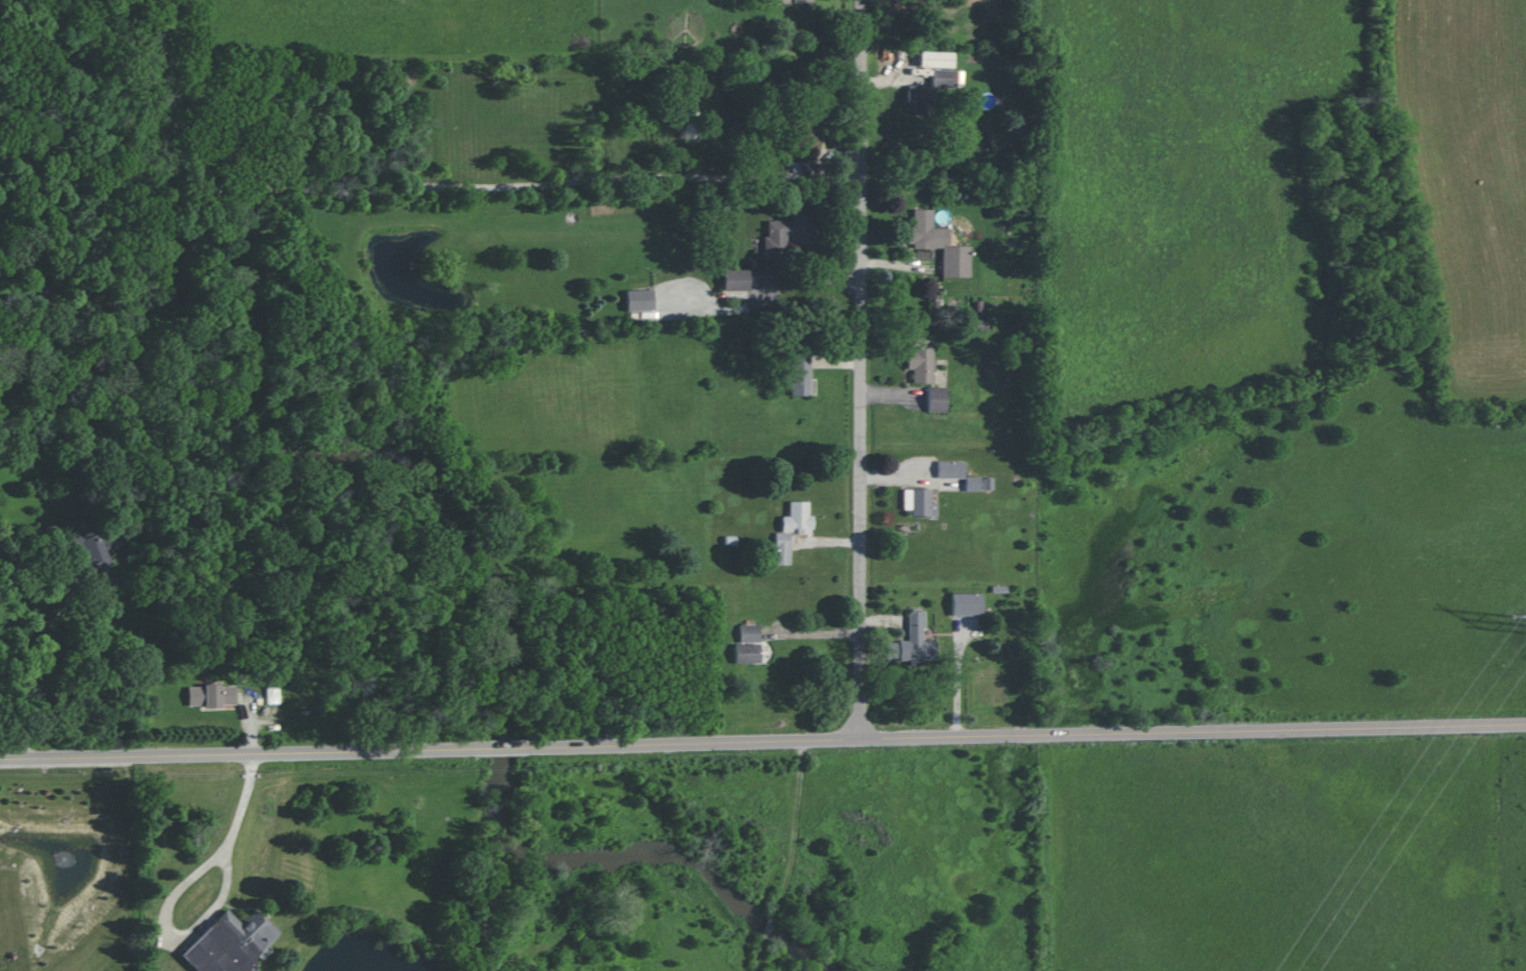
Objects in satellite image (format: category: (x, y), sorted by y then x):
building: (790, 1)
building: (936, 59)
building: (943, 78)
building: (919, 94)
building: (803, 130)
park: (1367, 218)
building: (787, 234)
building: (938, 244)
road: (811, 277)
building: (735, 279)
building: (639, 299)
building: (920, 364)
road: (864, 369)
building: (801, 377)
building: (936, 399)
building: (950, 469)
building: (972, 483)
building: (919, 502)
building: (797, 518)
building: (782, 548)
building: (99, 555)
building: (966, 603)
building: (749, 633)
road: (818, 636)
building: (912, 641)
building: (746, 653)
road: (42, 677)
building: (211, 696)
road: (763, 747)
road: (177, 894)
building: (230, 943)

